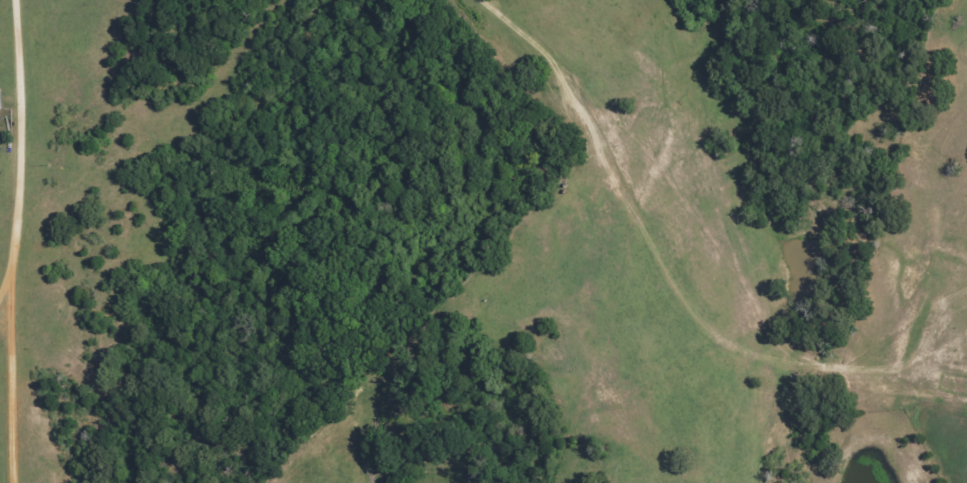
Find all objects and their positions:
building: (0, 101)

